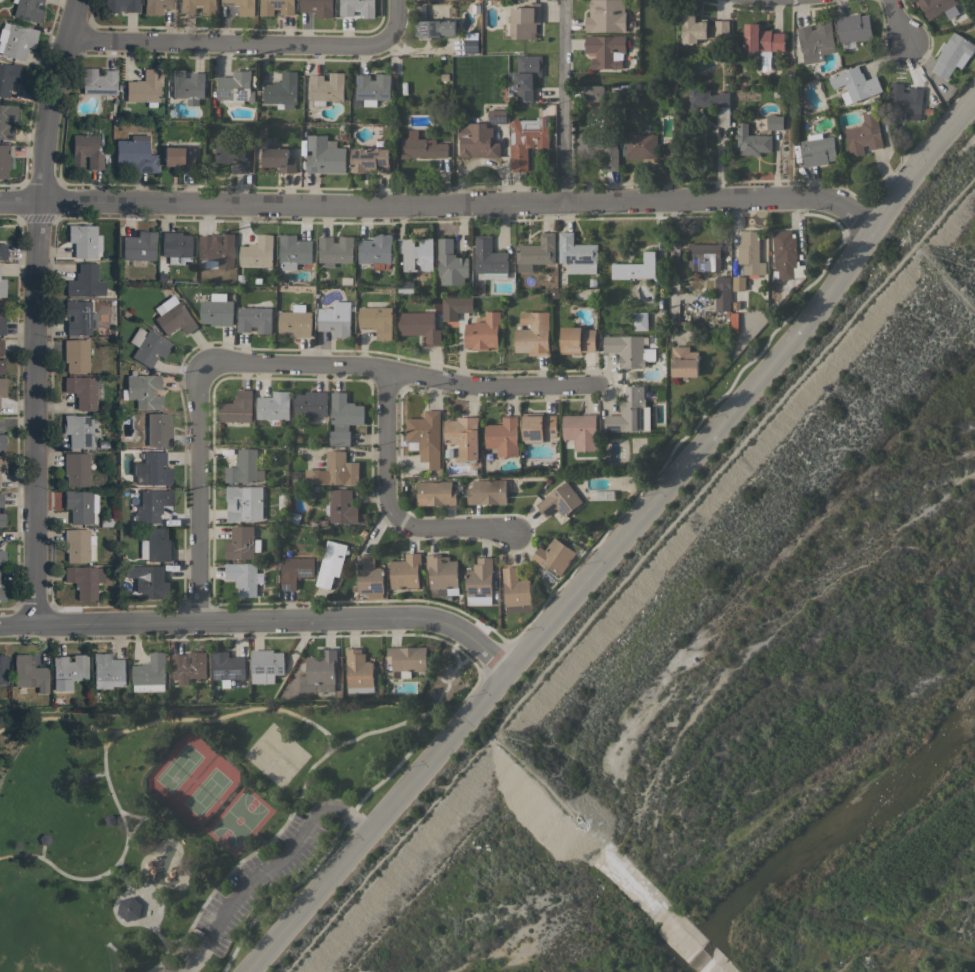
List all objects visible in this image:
building: (119, 5)
building: (156, 6)
building: (199, 6)
building: (244, 6)
building: (275, 6)
building: (317, 7)
building: (357, 7)
building: (938, 7)
building: (26, 9)
building: (605, 16)
building: (524, 20)
road: (901, 21)
building: (432, 25)
building: (721, 27)
building: (853, 27)
building: (693, 28)
building: (15, 40)
building: (762, 40)
building: (815, 41)
building: (471, 42)
road: (246, 44)
building: (605, 50)
building: (952, 54)
building: (9, 76)
building: (527, 76)
building: (97, 81)
building: (854, 84)
building: (187, 85)
building: (143, 87)
building: (235, 87)
building: (326, 88)
building: (373, 88)
building: (282, 90)
building: (593, 92)
building: (625, 94)
building: (905, 100)
road: (562, 101)
building: (710, 102)
building: (497, 116)
building: (6, 120)
building: (774, 121)
building: (864, 133)
building: (477, 140)
building: (526, 140)
building: (751, 140)
building: (640, 145)
building: (421, 146)
building: (599, 149)
building: (817, 149)
building: (84, 151)
building: (232, 152)
building: (134, 154)
building: (325, 154)
building: (179, 157)
building: (278, 159)
building: (370, 159)
building: (3, 160)
road: (923, 162)
road: (440, 203)
building: (83, 240)
building: (138, 245)
building: (176, 247)
road: (858, 247)
building: (375, 249)
building: (2, 250)
building: (217, 250)
building: (335, 250)
building: (257, 251)
building: (294, 251)
building: (536, 252)
building: (415, 253)
building: (576, 253)
building: (750, 253)
building: (784, 254)
building: (704, 256)
building: (489, 258)
road: (671, 261)
building: (451, 263)
building: (634, 267)
building: (83, 281)
building: (738, 283)
building: (2, 287)
building: (405, 287)
building: (722, 293)
building: (455, 306)
road: (35, 309)
building: (216, 310)
building: (172, 316)
building: (77, 317)
building: (335, 318)
building: (254, 319)
building: (377, 320)
building: (640, 320)
building: (1, 321)
building: (294, 321)
building: (419, 325)
building: (483, 331)
building: (533, 333)
building: (577, 340)
building: (0, 345)
building: (147, 346)
building: (628, 350)
building: (75, 354)
building: (684, 361)
building: (1, 366)
road: (397, 369)
building: (2, 386)
building: (81, 390)
building: (142, 390)
building: (310, 403)
building: (273, 405)
building: (237, 407)
building: (628, 416)
building: (343, 418)
building: (538, 426)
building: (77, 429)
building: (156, 429)
building: (579, 431)
building: (463, 436)
building: (503, 436)
building: (425, 437)
building: (1, 441)
building: (1, 463)
building: (244, 467)
building: (75, 469)
building: (150, 469)
road: (676, 469)
building: (334, 470)
building: (487, 491)
building: (436, 492)
road: (197, 493)
building: (559, 500)
building: (244, 502)
road: (387, 504)
building: (80, 505)
building: (150, 505)
building: (342, 506)
building: (1, 511)
building: (242, 543)
building: (76, 544)
building: (155, 544)
building: (553, 556)
building: (1, 557)
building: (330, 562)
building: (295, 570)
building: (405, 571)
building: (441, 571)
road: (628, 573)
building: (369, 576)
building: (243, 577)
building: (83, 579)
building: (153, 582)
building: (479, 582)
building: (516, 591)
building: (2, 592)
road: (259, 620)
road: (472, 656)
building: (407, 659)
building: (266, 665)
building: (188, 666)
building: (227, 667)
building: (3, 668)
building: (67, 670)
building: (107, 671)
building: (358, 671)
building: (319, 672)
building: (150, 673)
building: (28, 674)
road: (435, 695)
road: (206, 716)
road: (12, 721)
park: (277, 752)
road: (1, 768)
park: (175, 769)
park: (204, 792)
park: (185, 816)
road: (375, 819)
park: (235, 820)
road: (342, 820)
river: (832, 845)
road: (119, 853)
road: (250, 858)
road: (57, 866)
parking lot: (260, 878)
building: (128, 900)
park: (36, 946)
parking lot: (164, 968)
road: (160, 969)

